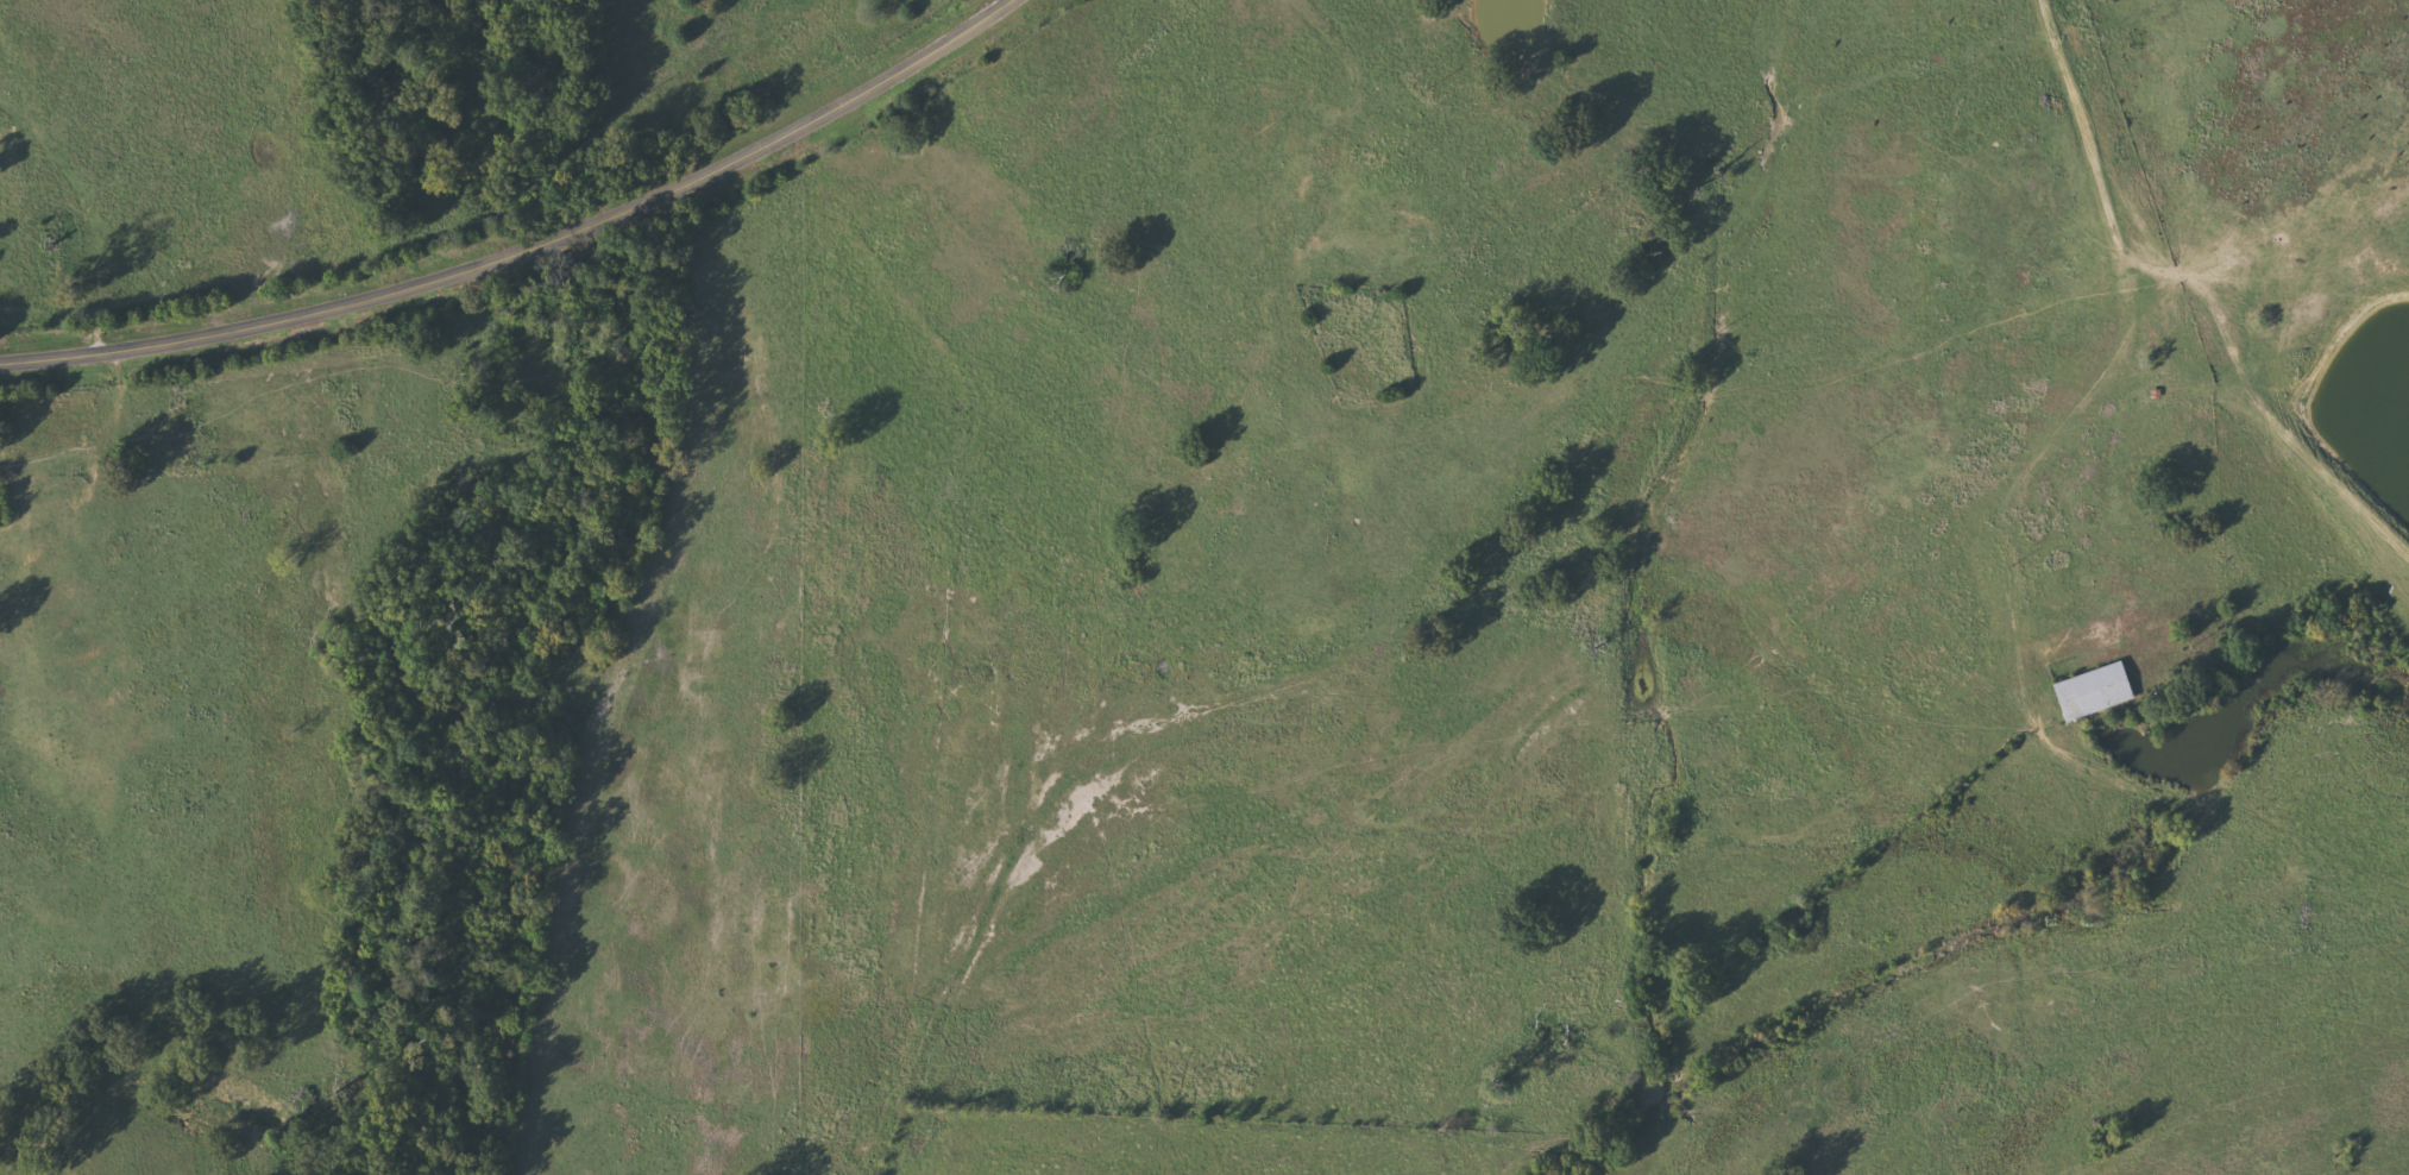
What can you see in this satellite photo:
road: (523, 247)
road: (2127, 343)
building: (2095, 690)

